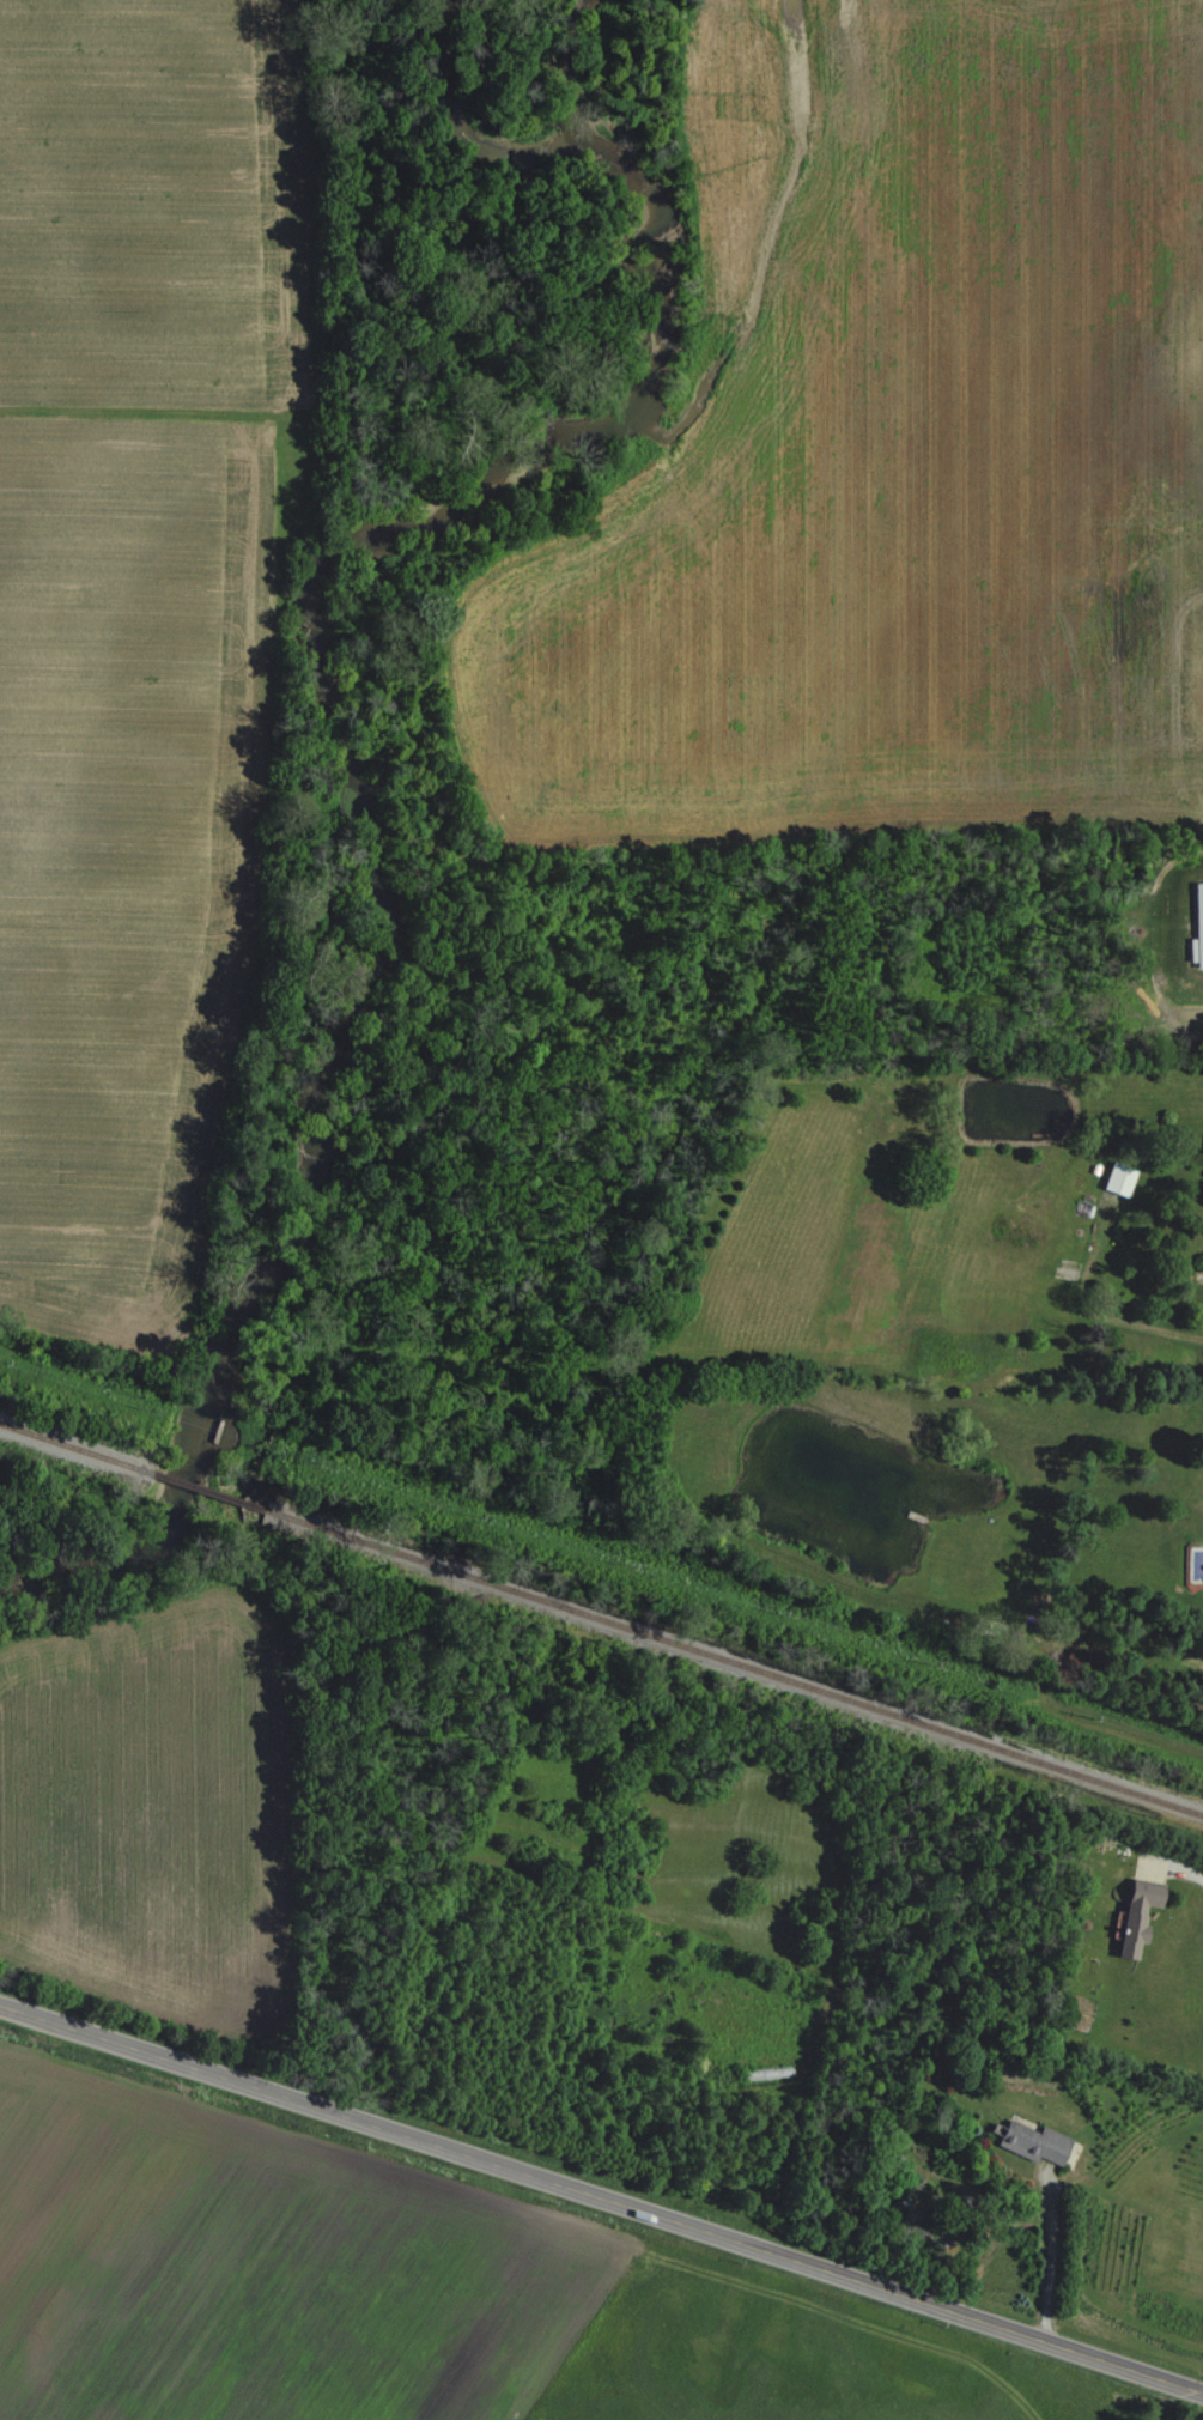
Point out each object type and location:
building: (1197, 928)
railway: (74, 1446)
railway: (205, 1490)
building: (985, 1627)
railway: (731, 1661)
building: (1055, 1663)
road: (1172, 1868)
building: (1136, 1913)
building: (760, 2072)
building: (1025, 2141)
road: (601, 2196)
building: (965, 2212)
road: (1052, 2248)

